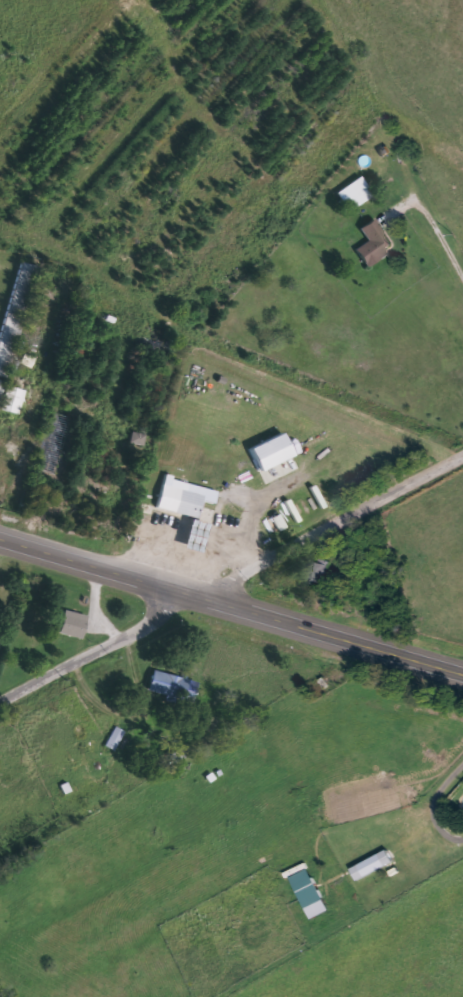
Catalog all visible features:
building: (353, 193)
building: (373, 244)
building: (16, 314)
building: (29, 361)
building: (1, 387)
building: (11, 400)
building: (275, 452)
building: (179, 499)
road: (330, 521)
building: (194, 537)
building: (318, 573)
road: (230, 603)
building: (72, 625)
road: (95, 653)
building: (172, 686)
building: (116, 738)
building: (372, 865)
building: (310, 894)

